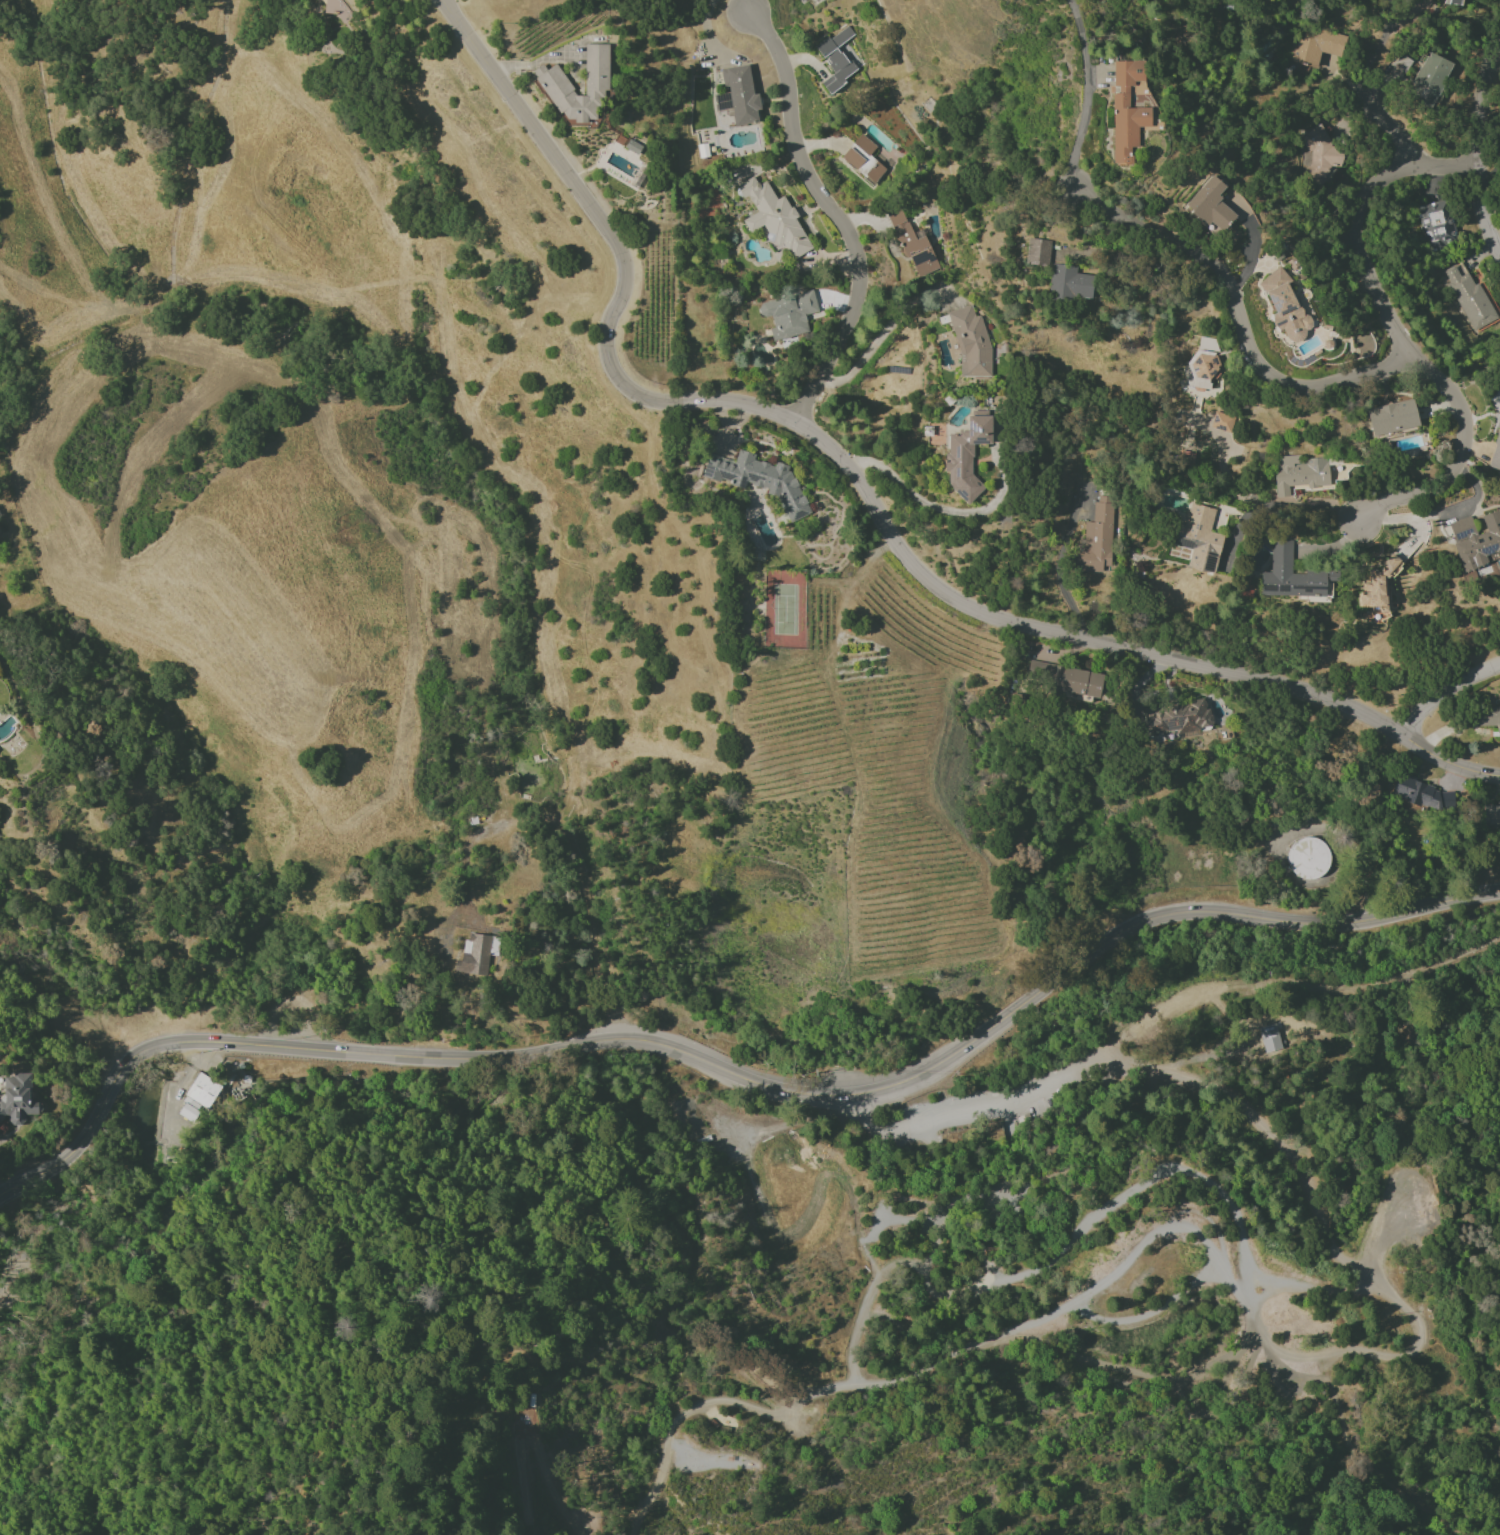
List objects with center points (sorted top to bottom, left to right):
building: (799, 0)
building: (340, 9)
building: (1316, 46)
road: (1378, 46)
road: (542, 58)
building: (836, 59)
building: (1429, 78)
building: (554, 83)
building: (742, 95)
road: (1086, 95)
building: (722, 101)
building: (1127, 108)
road: (1390, 128)
road: (1470, 149)
building: (1318, 154)
building: (865, 161)
building: (1210, 204)
road: (836, 216)
building: (774, 217)
building: (1436, 225)
building: (904, 232)
road: (1251, 247)
building: (1037, 252)
building: (923, 262)
building: (1068, 283)
building: (1469, 297)
building: (1285, 306)
building: (788, 314)
road: (1240, 314)
road: (878, 339)
road: (1399, 339)
building: (971, 344)
building: (1204, 362)
building: (1392, 418)
building: (1221, 422)
building: (1496, 453)
building: (966, 454)
building: (1185, 458)
building: (1299, 473)
building: (759, 481)
road: (865, 486)
road: (941, 508)
road: (1282, 513)
building: (1199, 538)
building: (1476, 540)
building: (1094, 541)
road: (1060, 571)
building: (1293, 575)
building: (1378, 582)
building: (1064, 678)
road: (1446, 695)
building: (1488, 717)
building: (1177, 718)
building: (1422, 794)
building: (1490, 815)
building: (1308, 859)
building: (475, 955)
road: (1302, 985)
road: (740, 1075)
parking lot: (1011, 1092)
building: (198, 1097)
building: (18, 1099)
road: (1004, 1102)
road: (862, 1116)
building: (974, 1143)
quarry: (974, 1143)
road: (1129, 1192)
road: (898, 1216)
road: (953, 1225)
road: (1388, 1232)
road: (1132, 1253)
road: (876, 1271)
park: (1050, 1273)
road: (1263, 1281)
road: (1152, 1317)
road: (1237, 1341)
road: (1368, 1357)
road: (1123, 1370)
road: (388, 1393)
road: (1333, 1418)
road: (530, 1422)
road: (1244, 1449)
road: (944, 1472)
road: (529, 1488)
road: (649, 1493)

